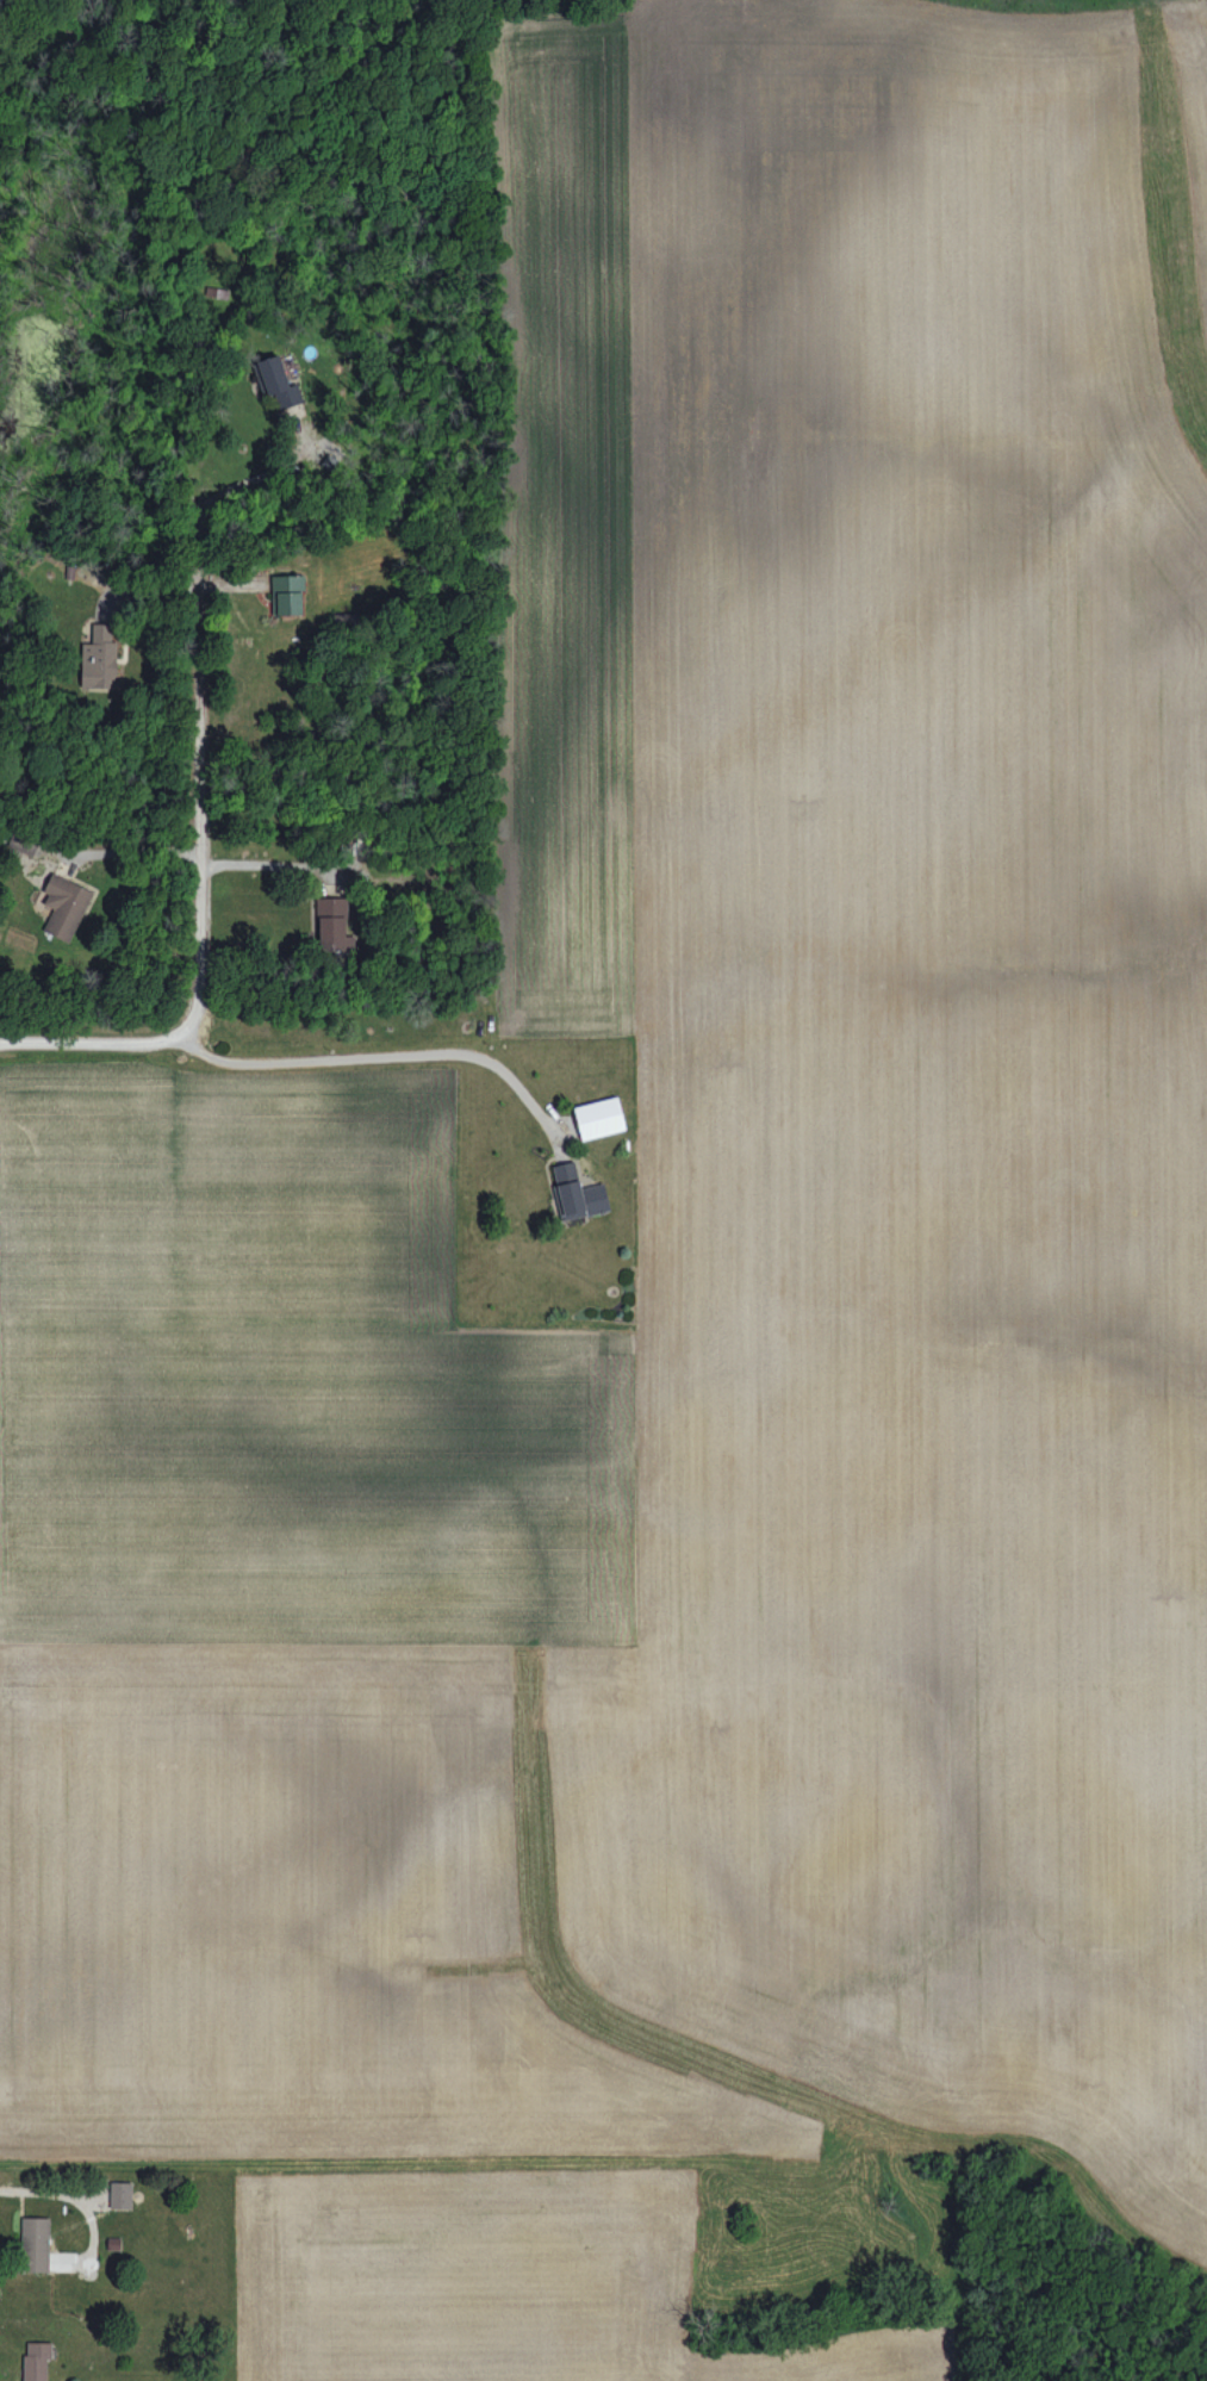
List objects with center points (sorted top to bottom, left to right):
building: (217, 294)
building: (276, 381)
building: (287, 593)
building: (98, 659)
road: (132, 853)
road: (265, 864)
road: (200, 900)
building: (64, 906)
building: (331, 922)
road: (384, 1056)
building: (599, 1118)
building: (577, 1193)
building: (120, 2194)
building: (36, 2244)
building: (37, 2360)

